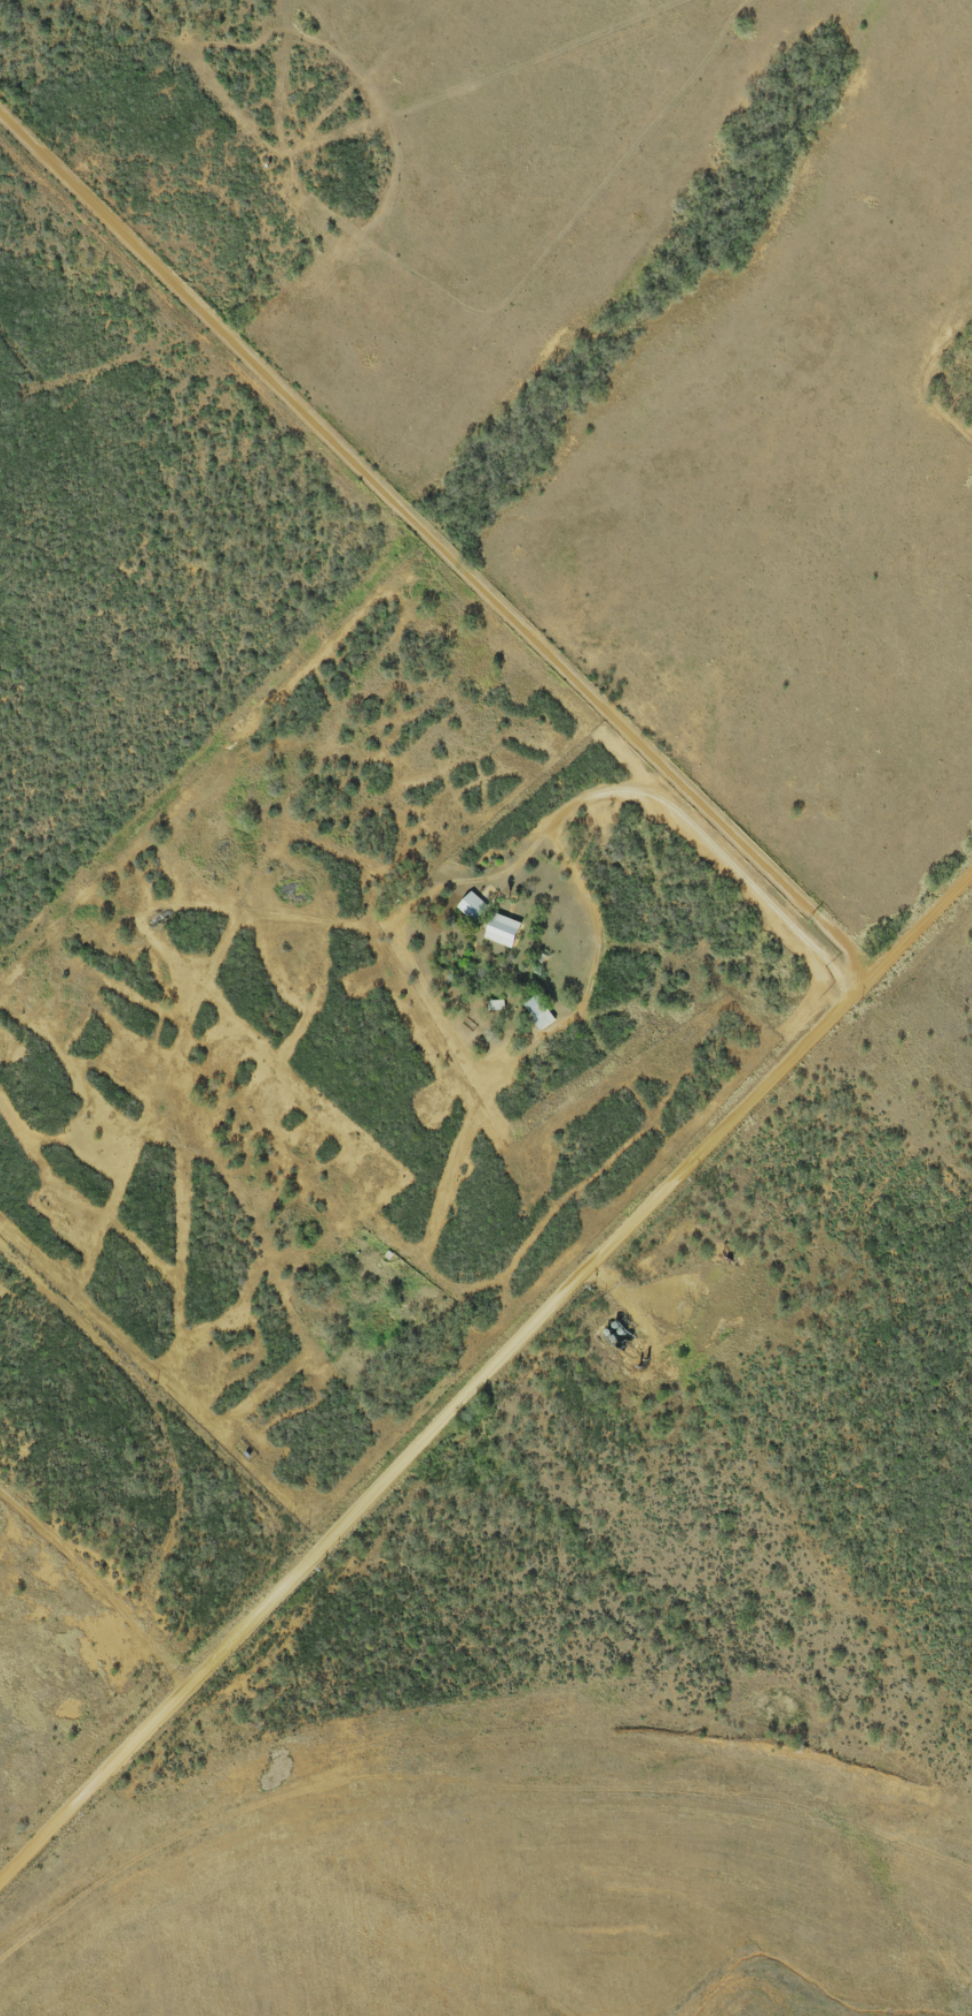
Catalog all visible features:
road: (423, 584)
building: (487, 896)
building: (471, 908)
building: (502, 932)
building: (538, 1014)
road: (485, 1371)
road: (158, 1397)

